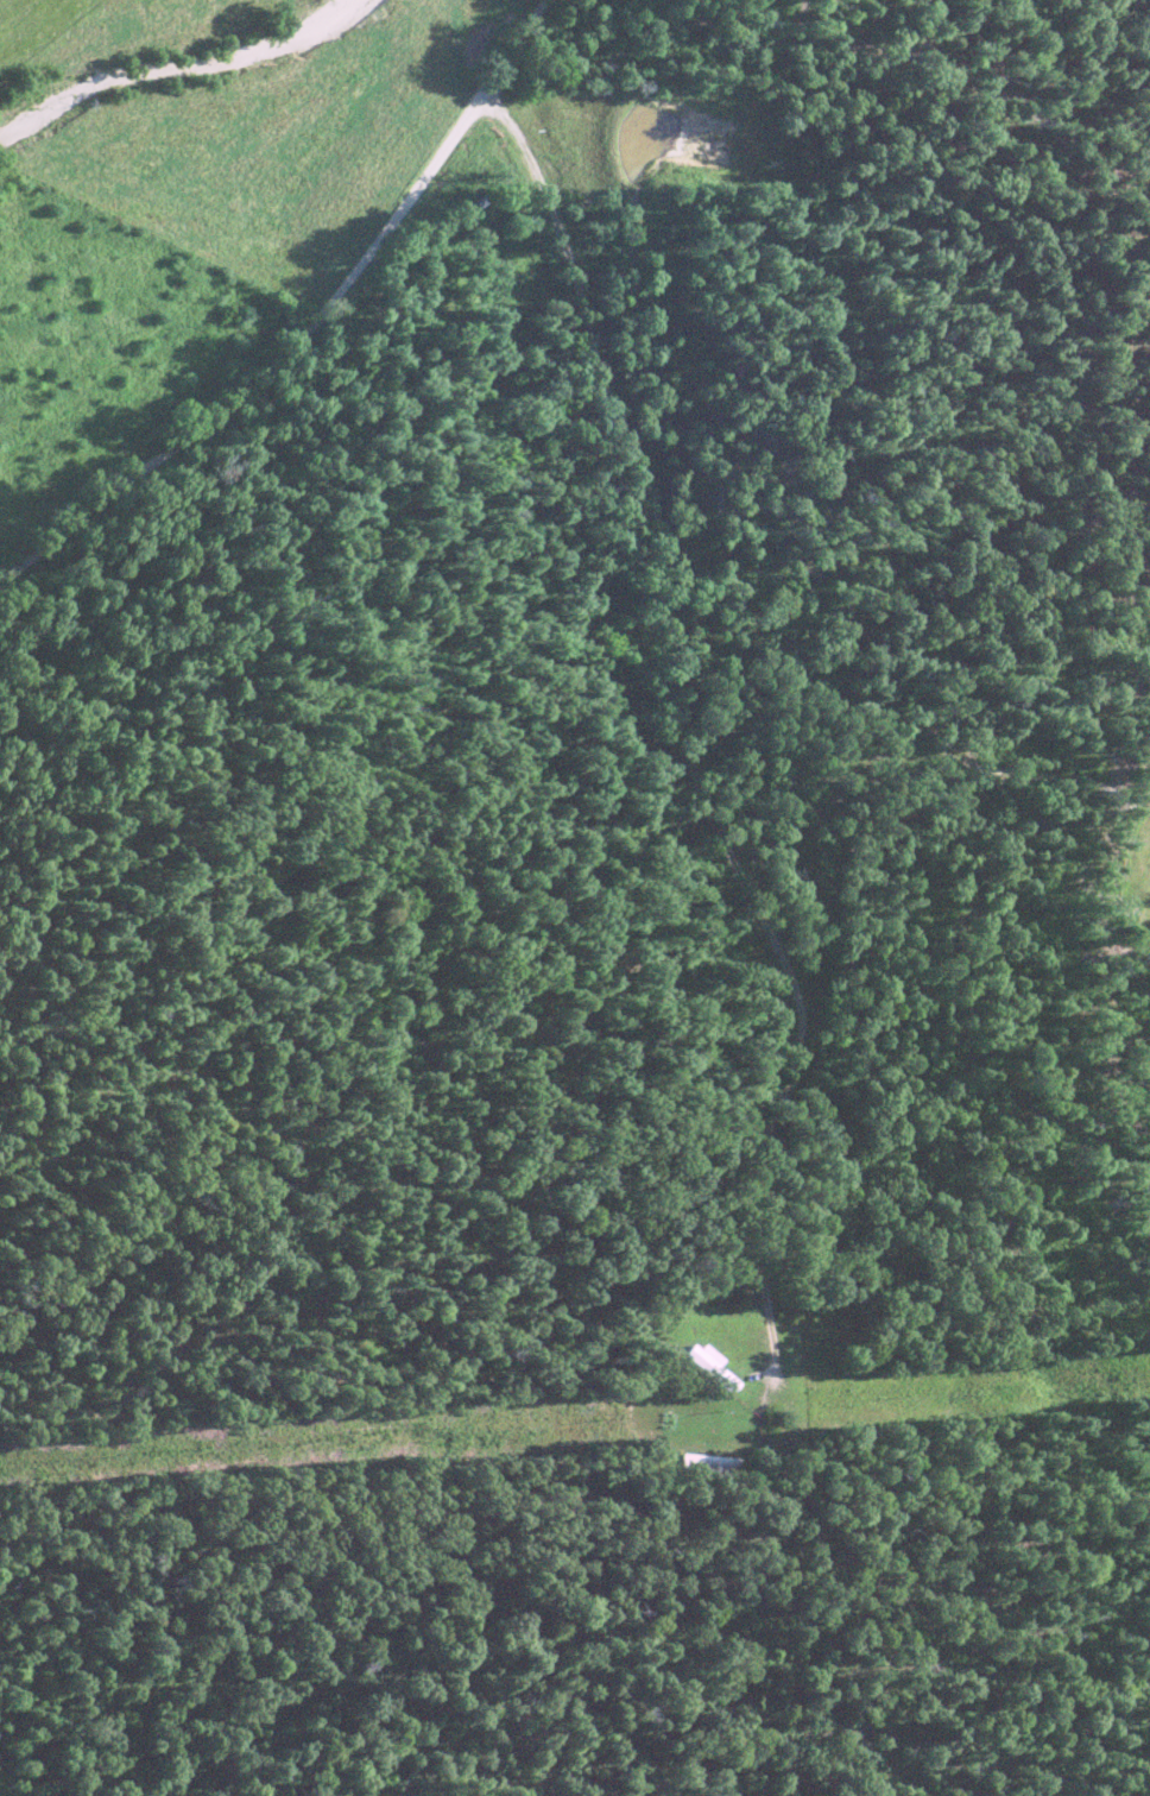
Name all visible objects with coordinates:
road: (316, 336)

